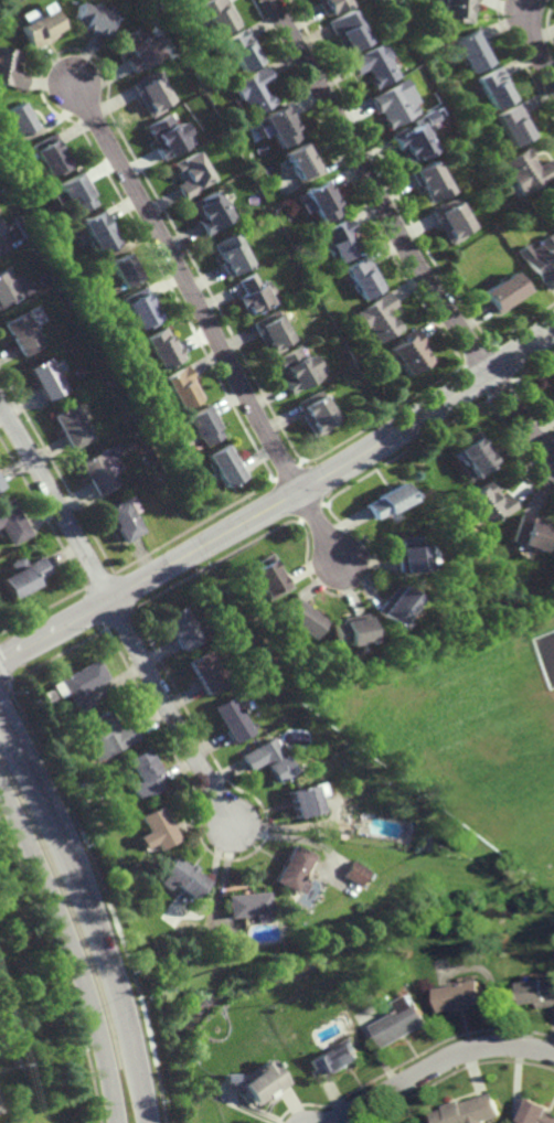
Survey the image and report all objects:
building: (185, 0)
building: (333, 4)
building: (457, 10)
building: (221, 13)
building: (94, 17)
building: (432, 17)
building: (41, 23)
building: (350, 30)
road: (534, 40)
building: (142, 46)
building: (244, 49)
building: (476, 50)
building: (377, 64)
building: (11, 67)
building: (499, 86)
building: (255, 89)
building: (155, 93)
building: (397, 103)
building: (19, 117)
building: (518, 124)
building: (283, 125)
building: (171, 136)
building: (418, 138)
building: (224, 142)
building: (51, 154)
building: (302, 159)
building: (530, 171)
building: (193, 173)
building: (435, 181)
building: (76, 192)
building: (321, 201)
building: (211, 212)
building: (455, 220)
building: (249, 228)
building: (98, 232)
building: (0, 233)
road: (404, 234)
building: (343, 240)
building: (232, 255)
building: (541, 257)
building: (124, 270)
building: (366, 277)
building: (6, 289)
building: (508, 291)
building: (255, 295)
building: (342, 306)
building: (141, 309)
building: (382, 317)
road: (209, 320)
building: (274, 332)
building: (21, 334)
building: (162, 349)
building: (412, 352)
building: (300, 370)
building: (102, 373)
building: (45, 379)
building: (553, 382)
building: (183, 388)
building: (319, 413)
building: (204, 426)
building: (71, 427)
building: (475, 456)
building: (227, 467)
building: (99, 472)
building: (0, 486)
road: (54, 500)
building: (388, 502)
building: (487, 503)
road: (280, 504)
building: (125, 520)
building: (10, 524)
building: (460, 527)
building: (529, 534)
building: (409, 555)
building: (22, 575)
building: (270, 577)
building: (395, 605)
building: (299, 616)
building: (183, 625)
building: (350, 628)
building: (209, 671)
building: (81, 682)
road: (170, 713)
building: (60, 715)
building: (233, 717)
building: (107, 734)
building: (267, 758)
building: (145, 772)
building: (305, 798)
building: (157, 825)
building: (292, 868)
building: (356, 873)
building: (180, 876)
building: (246, 905)
road: (92, 915)
road: (72, 948)
building: (539, 993)
building: (464, 996)
building: (404, 1022)
building: (337, 1059)
road: (437, 1065)
building: (263, 1083)
building: (468, 1112)
building: (535, 1114)

